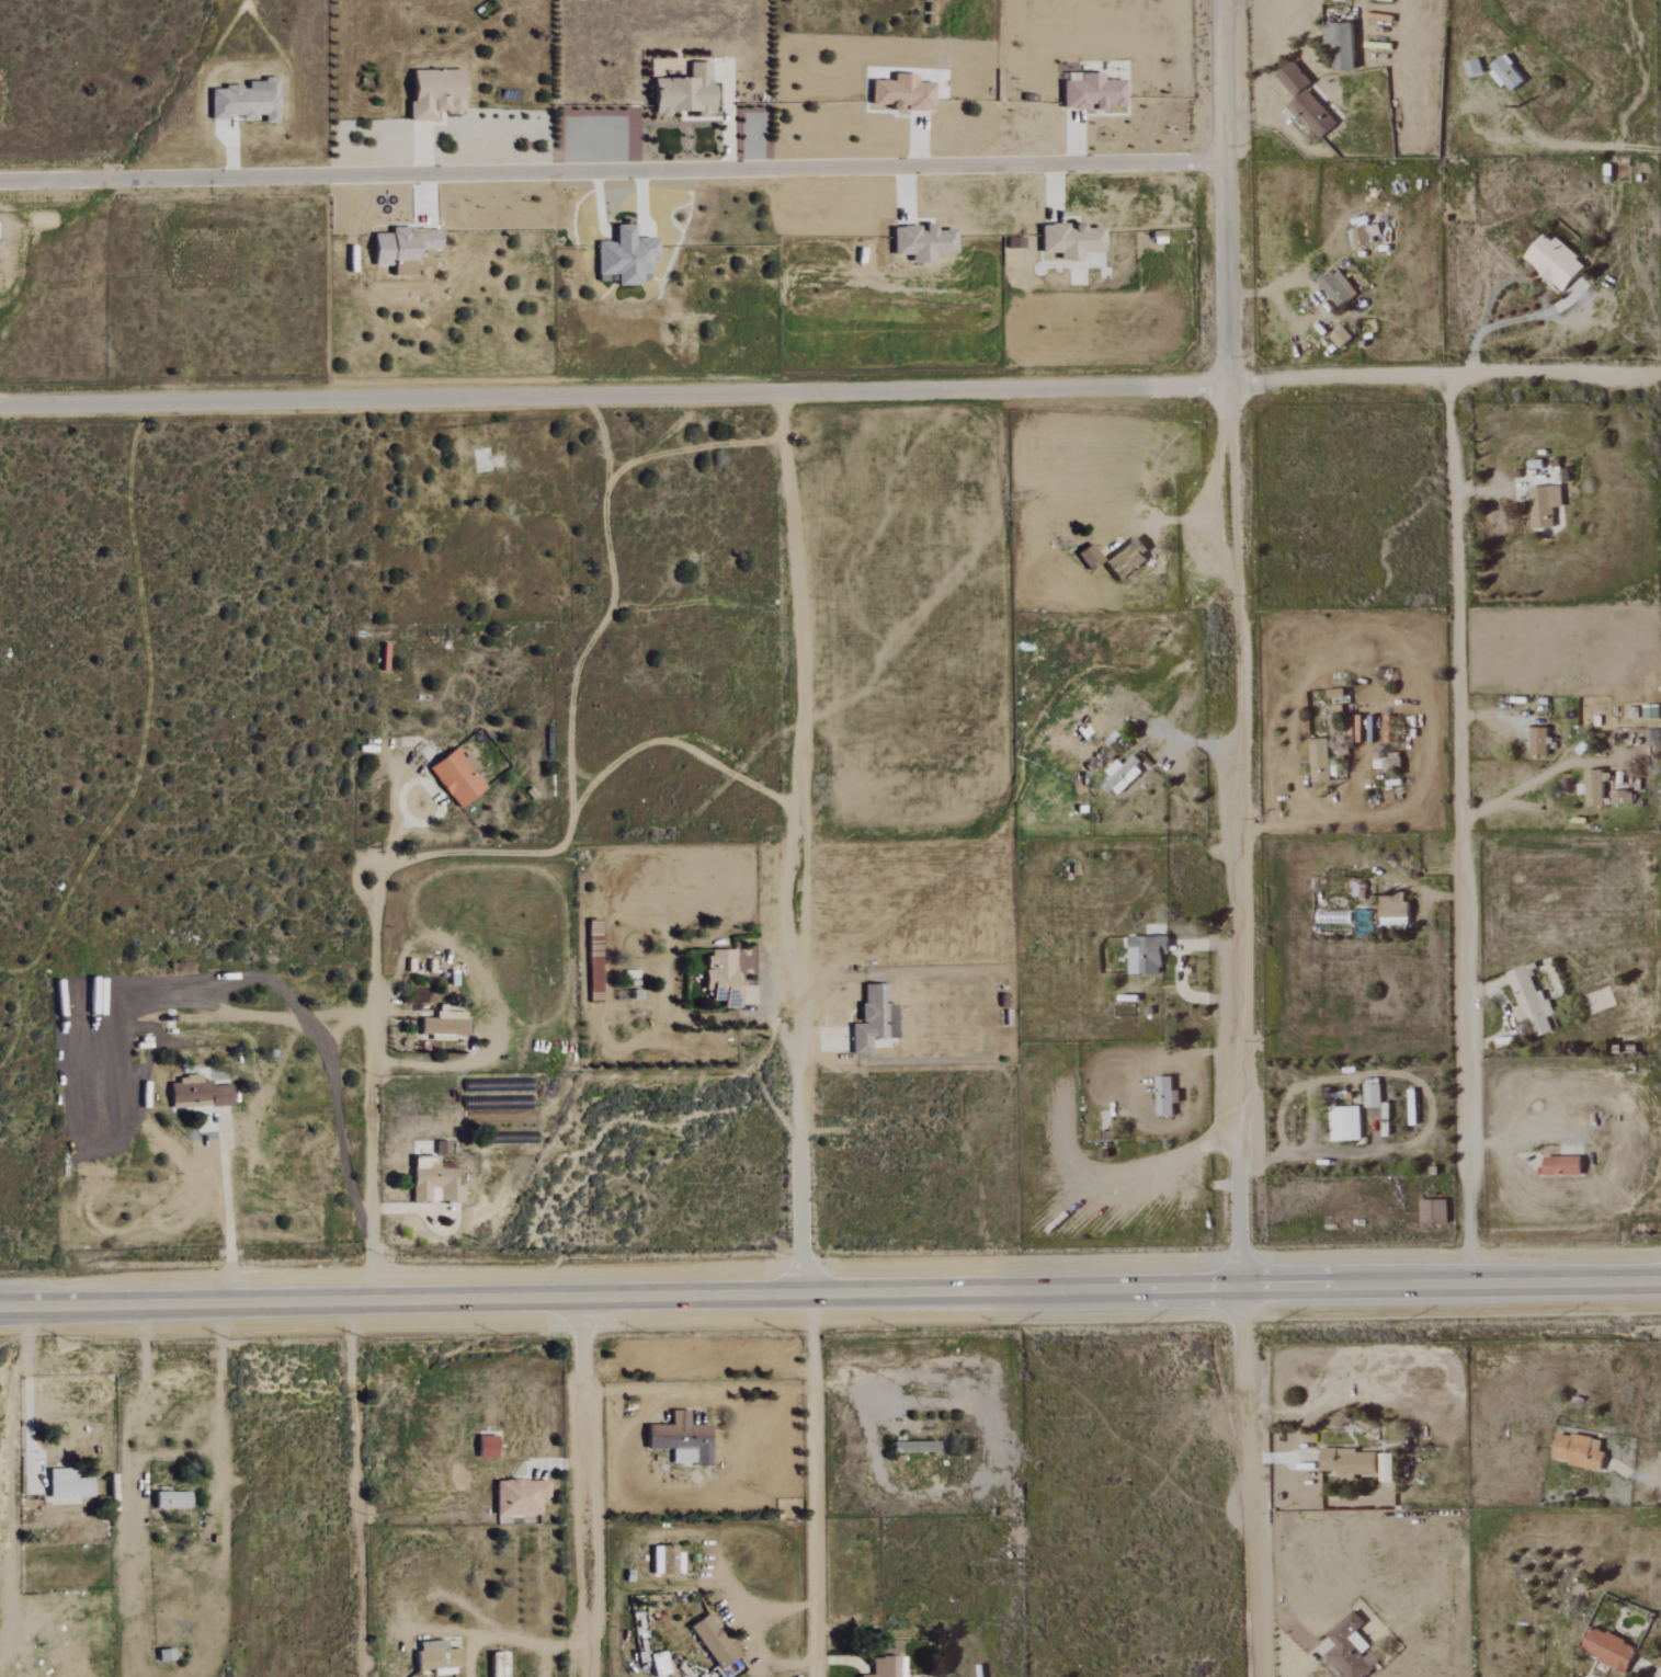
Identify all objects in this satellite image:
building: (1341, 45)
building: (1474, 67)
building: (1506, 72)
building: (1293, 79)
building: (682, 91)
building: (1090, 92)
building: (900, 93)
building: (432, 96)
building: (244, 100)
building: (1312, 113)
road: (1556, 145)
road: (611, 172)
road: (1221, 191)
road: (1377, 214)
building: (1364, 235)
building: (1069, 240)
building: (921, 242)
building: (401, 244)
building: (624, 256)
building: (1555, 261)
road: (1512, 279)
building: (1336, 287)
road: (1463, 377)
road: (1244, 383)
road: (612, 397)
road: (1493, 488)
building: (1544, 505)
road: (1167, 518)
building: (1089, 557)
road: (789, 697)
road: (1497, 715)
road: (1178, 738)
building: (1538, 742)
building: (1320, 761)
building: (1122, 775)
building: (455, 777)
road: (1515, 789)
building: (1602, 789)
road: (439, 811)
road: (1309, 821)
road: (1463, 830)
road: (1235, 835)
road: (1396, 878)
building: (1393, 910)
building: (1146, 955)
road: (1176, 970)
building: (720, 977)
road: (769, 995)
building: (1529, 1002)
road: (1510, 1015)
building: (872, 1019)
building: (442, 1026)
road: (821, 1041)
road: (797, 1073)
road: (372, 1085)
building: (196, 1093)
building: (1163, 1096)
building: (1372, 1096)
road: (1429, 1100)
building: (1344, 1123)
road: (1508, 1138)
building: (440, 1148)
building: (1562, 1166)
building: (432, 1182)
road: (226, 1196)
building: (1433, 1211)
road: (801, 1220)
road: (230, 1284)
road: (830, 1293)
road: (581, 1336)
road: (1245, 1338)
road: (26, 1387)
building: (679, 1436)
building: (912, 1447)
building: (1577, 1451)
road: (182, 1458)
building: (1347, 1462)
building: (1387, 1467)
building: (66, 1484)
road: (810, 1485)
road: (353, 1490)
road: (1307, 1493)
building: (517, 1496)
building: (170, 1499)
road: (11, 1513)
road: (583, 1526)
road: (1250, 1531)
road: (448, 1630)
building: (712, 1641)
road: (762, 1641)
building: (1608, 1649)
building: (1347, 1650)
building: (434, 1656)
building: (657, 1664)
building: (883, 1666)

